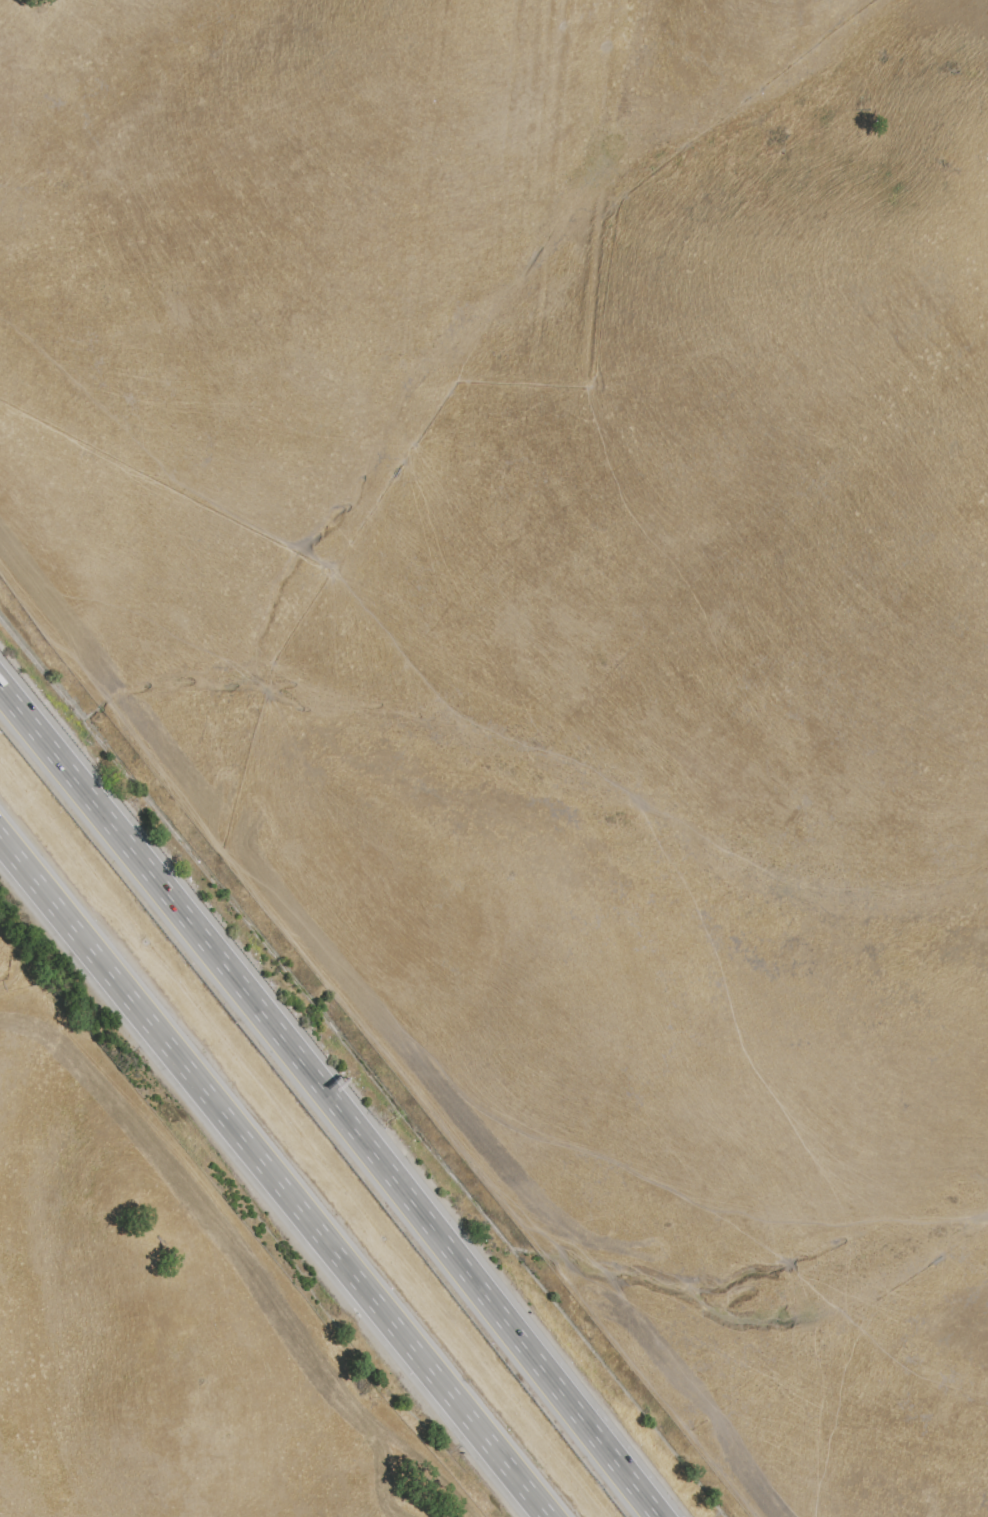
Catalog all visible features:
road: (36, 970)
road: (331, 1099)
road: (275, 1175)

